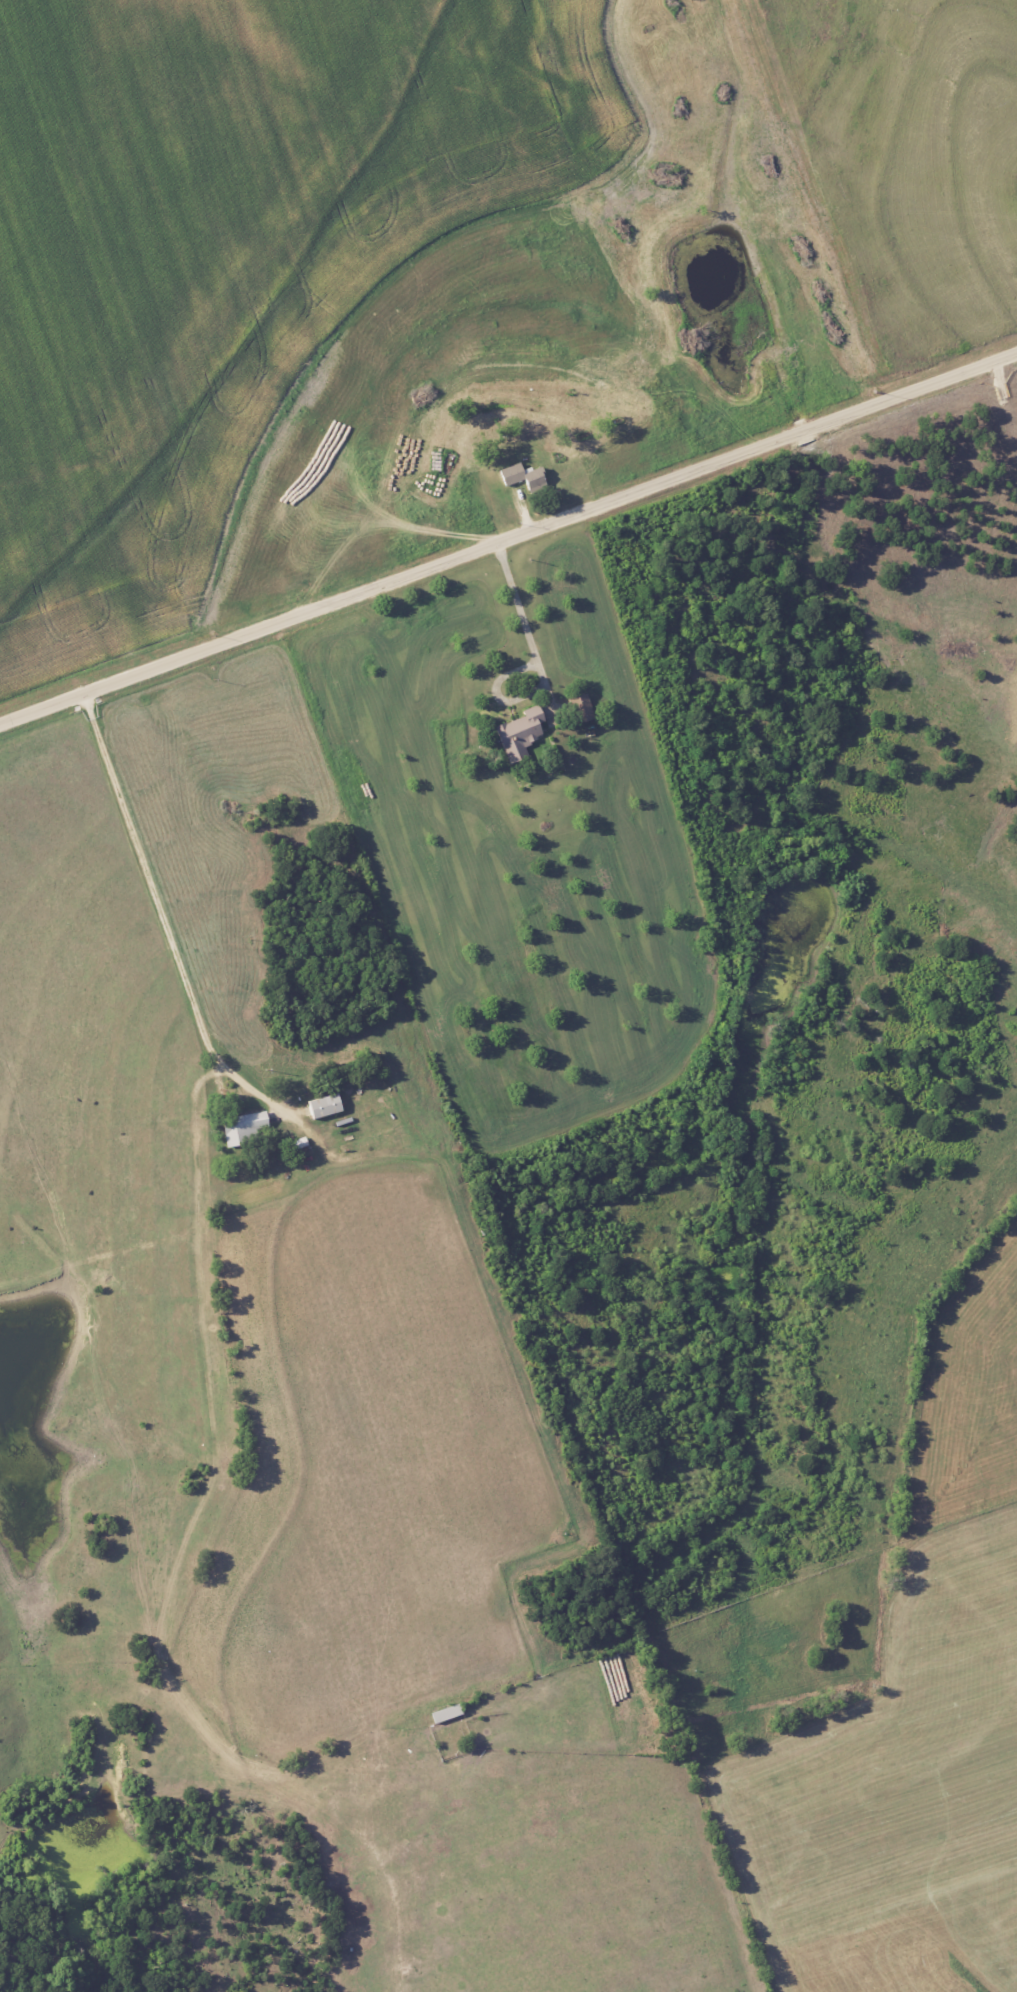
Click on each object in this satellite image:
building: (521, 476)
road: (509, 539)
road: (521, 613)
building: (581, 708)
building: (518, 733)
building: (323, 1105)
building: (245, 1126)
road: (198, 1235)

